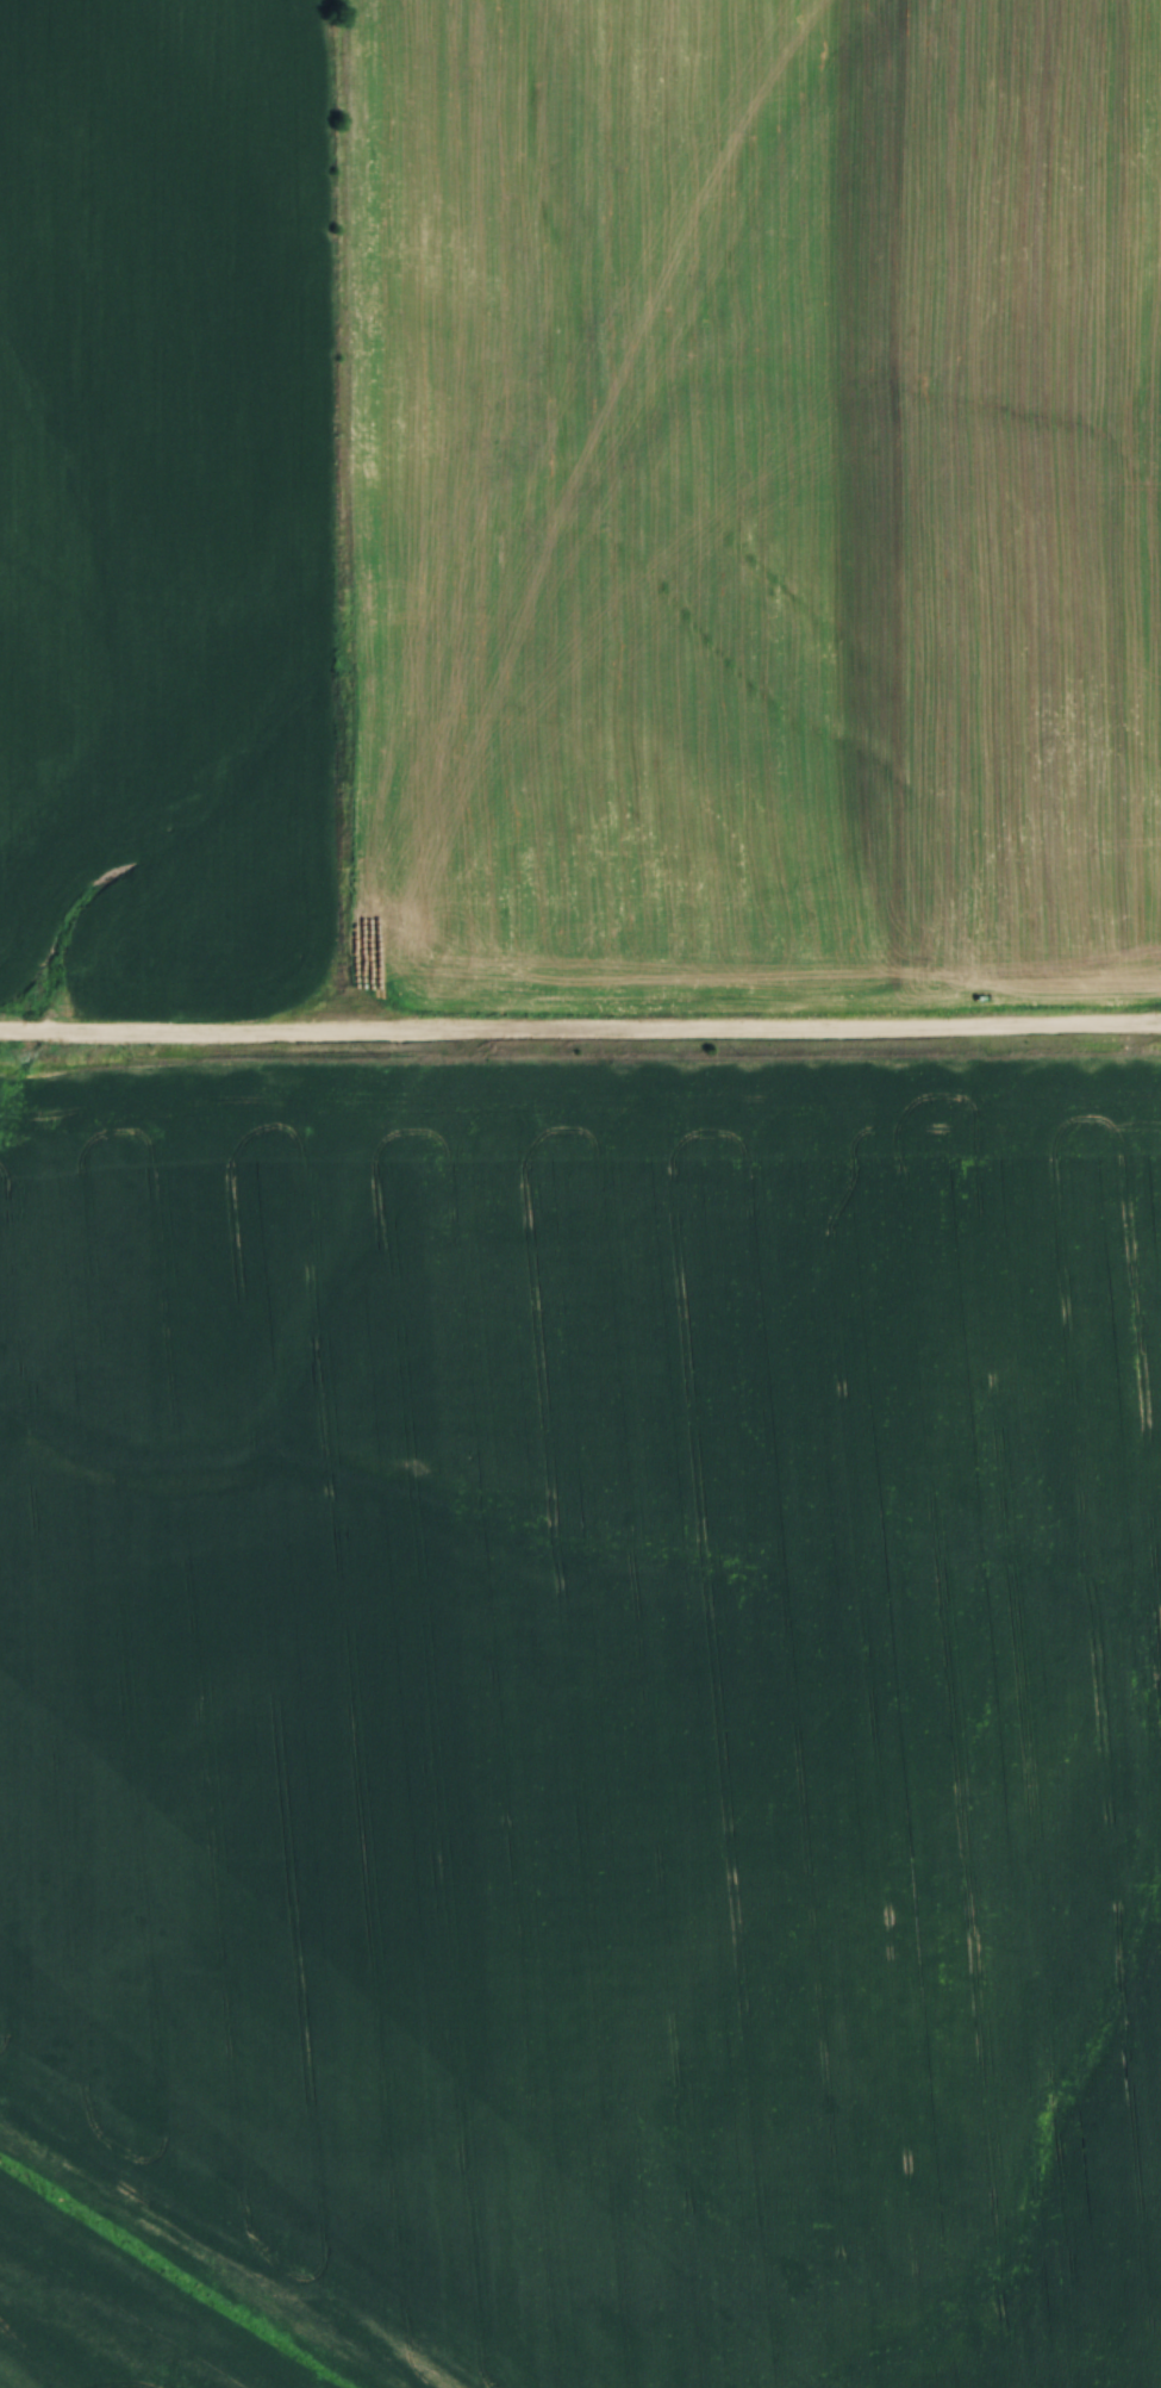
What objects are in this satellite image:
road: (580, 1037)

